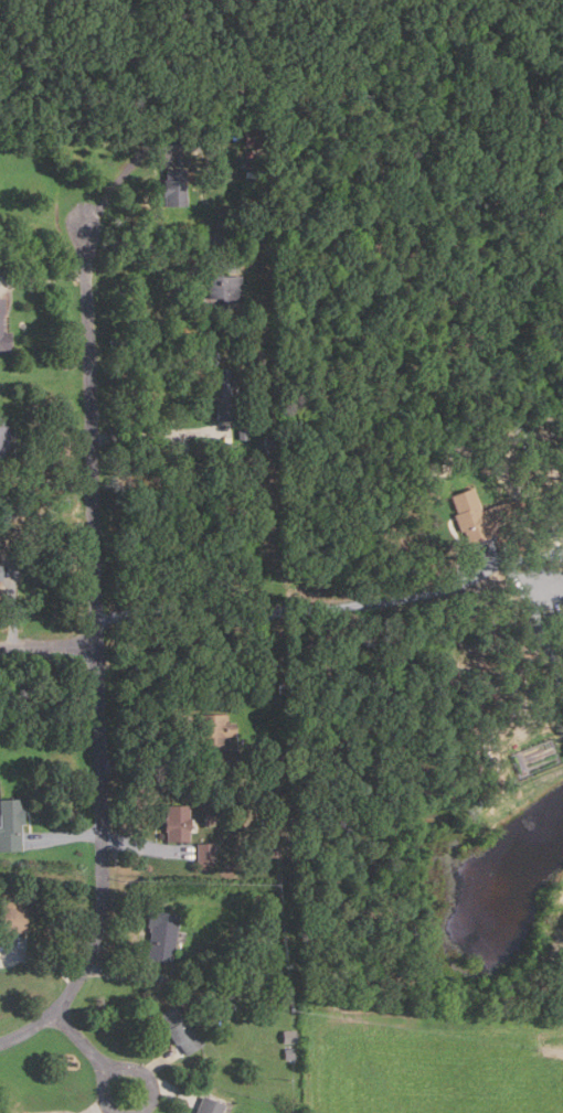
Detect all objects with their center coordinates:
building: (256, 137)
road: (126, 170)
building: (172, 189)
road: (166, 240)
road: (42, 277)
building: (222, 289)
building: (1, 307)
building: (3, 342)
building: (223, 394)
building: (276, 424)
road: (158, 434)
building: (242, 435)
building: (2, 437)
building: (272, 443)
road: (46, 483)
building: (539, 514)
building: (469, 517)
building: (0, 572)
road: (370, 603)
road: (12, 607)
road: (94, 624)
road: (47, 645)
building: (213, 728)
building: (229, 758)
road: (150, 761)
building: (174, 822)
building: (11, 825)
road: (64, 836)
road: (145, 845)
building: (274, 848)
building: (204, 850)
building: (10, 911)
building: (159, 934)
road: (42, 963)
road: (123, 977)
building: (179, 1028)
road: (26, 1029)
building: (287, 1036)
road: (83, 1042)
building: (291, 1053)
road: (156, 1062)
road: (126, 1068)
road: (170, 1093)
building: (206, 1105)
road: (97, 1109)

